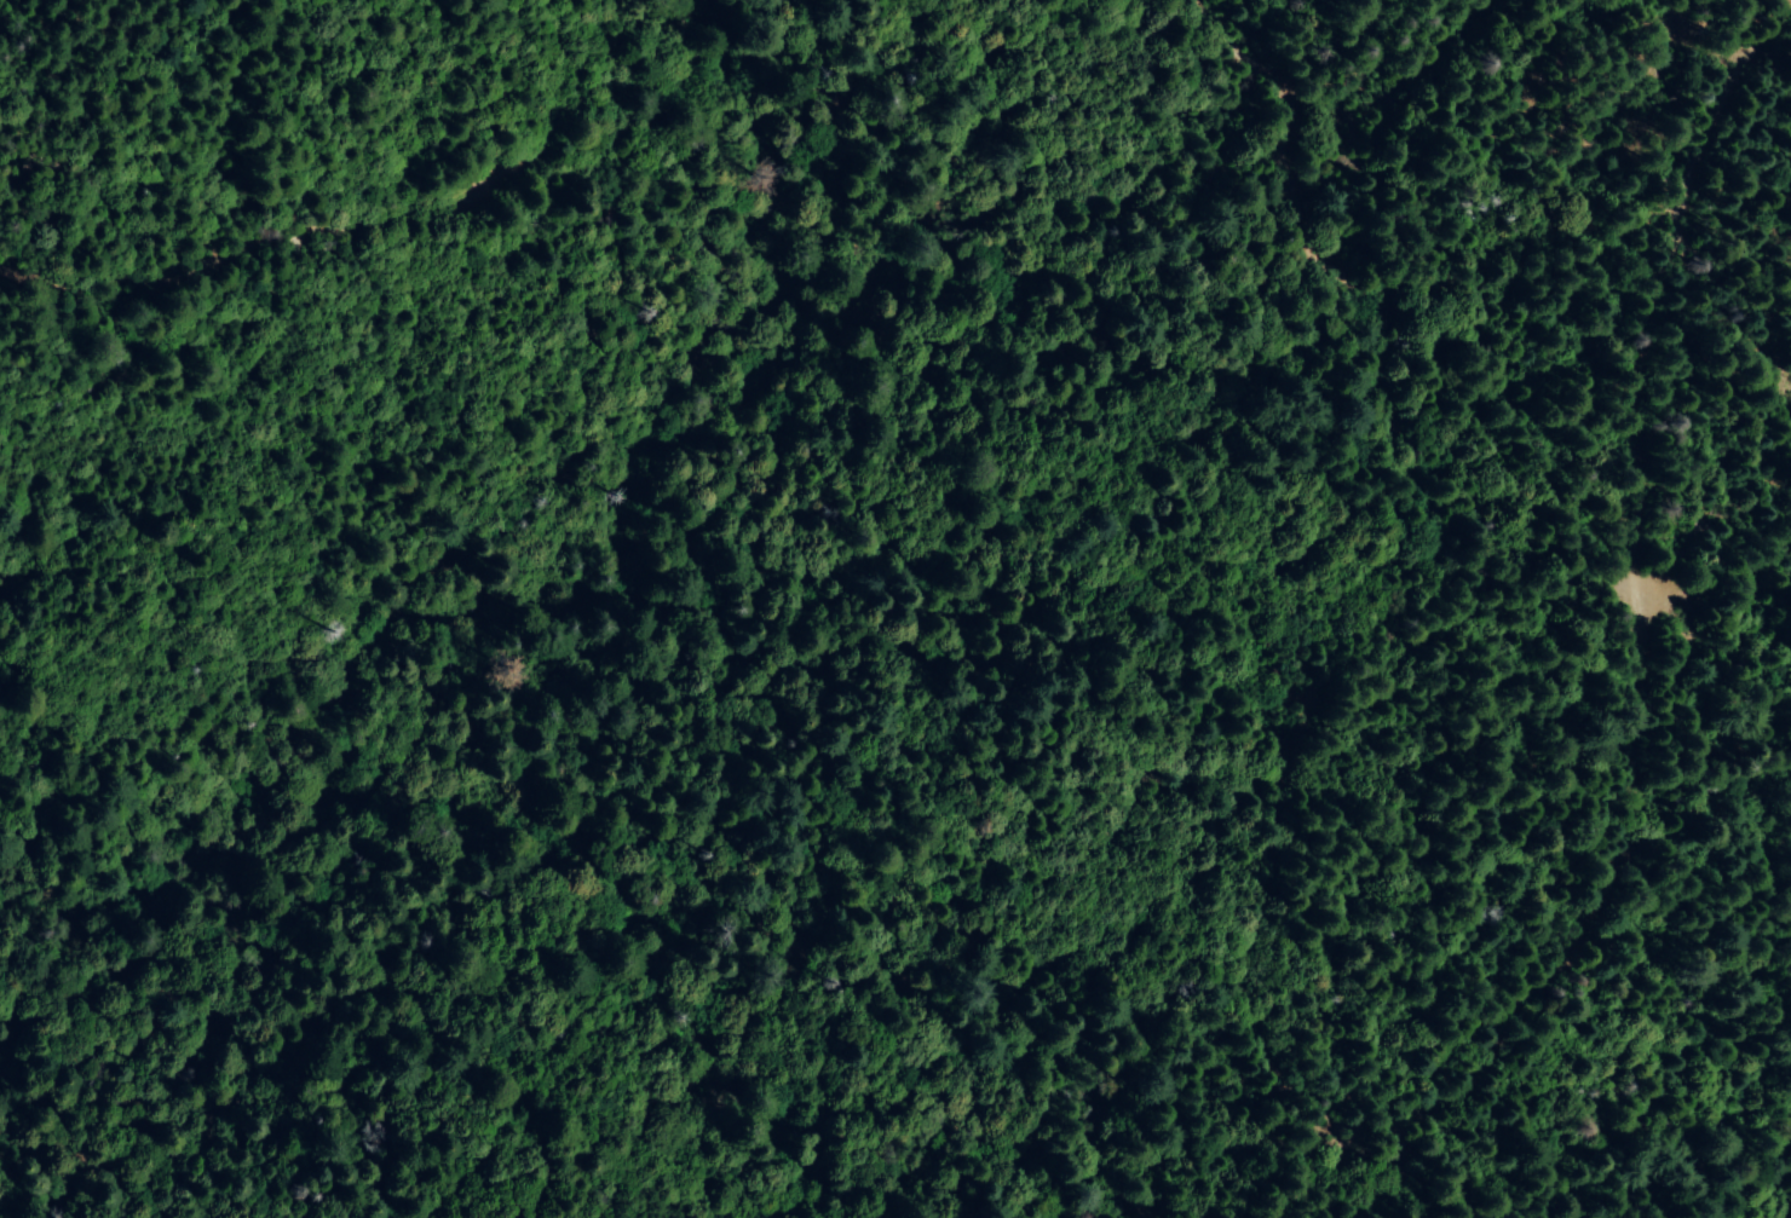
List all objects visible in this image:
road: (327, 202)
road: (1363, 1098)

